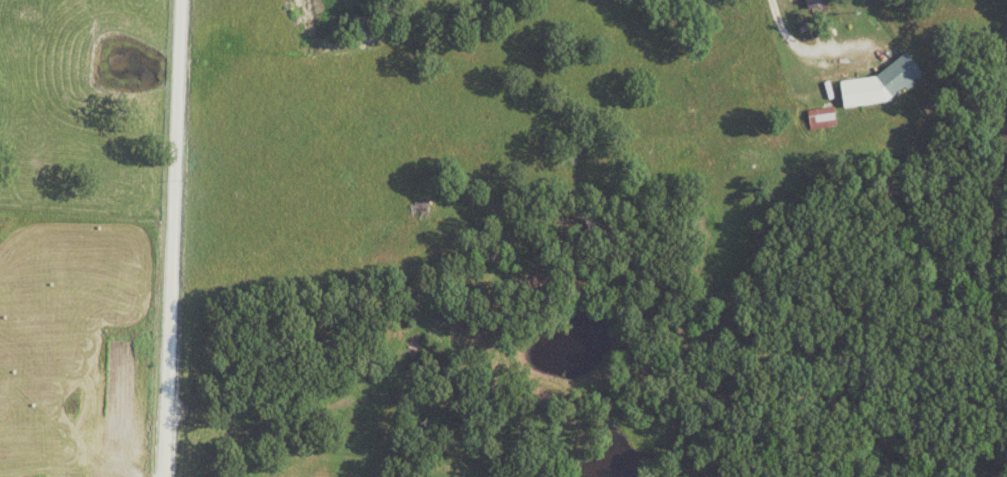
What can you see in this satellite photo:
building: (814, 2)
road: (816, 56)
building: (820, 117)
building: (743, 163)
road: (172, 238)

